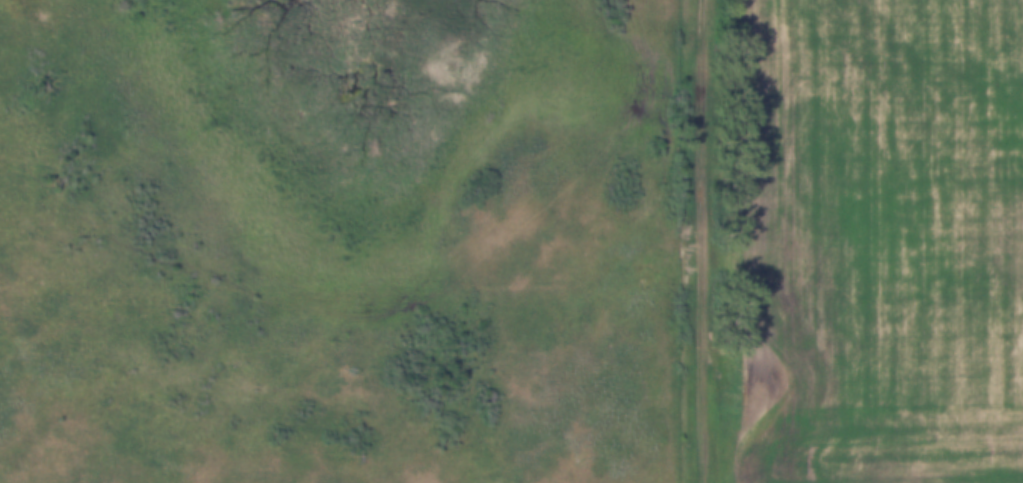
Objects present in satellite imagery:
road: (702, 241)

